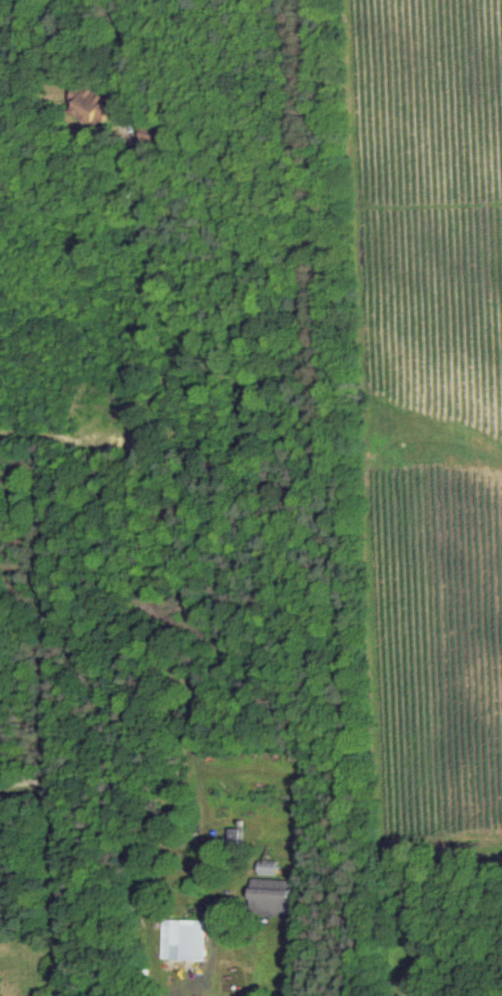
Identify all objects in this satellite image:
building: (90, 107)
road: (51, 180)
building: (235, 837)
road: (50, 867)
building: (271, 897)
building: (183, 940)

